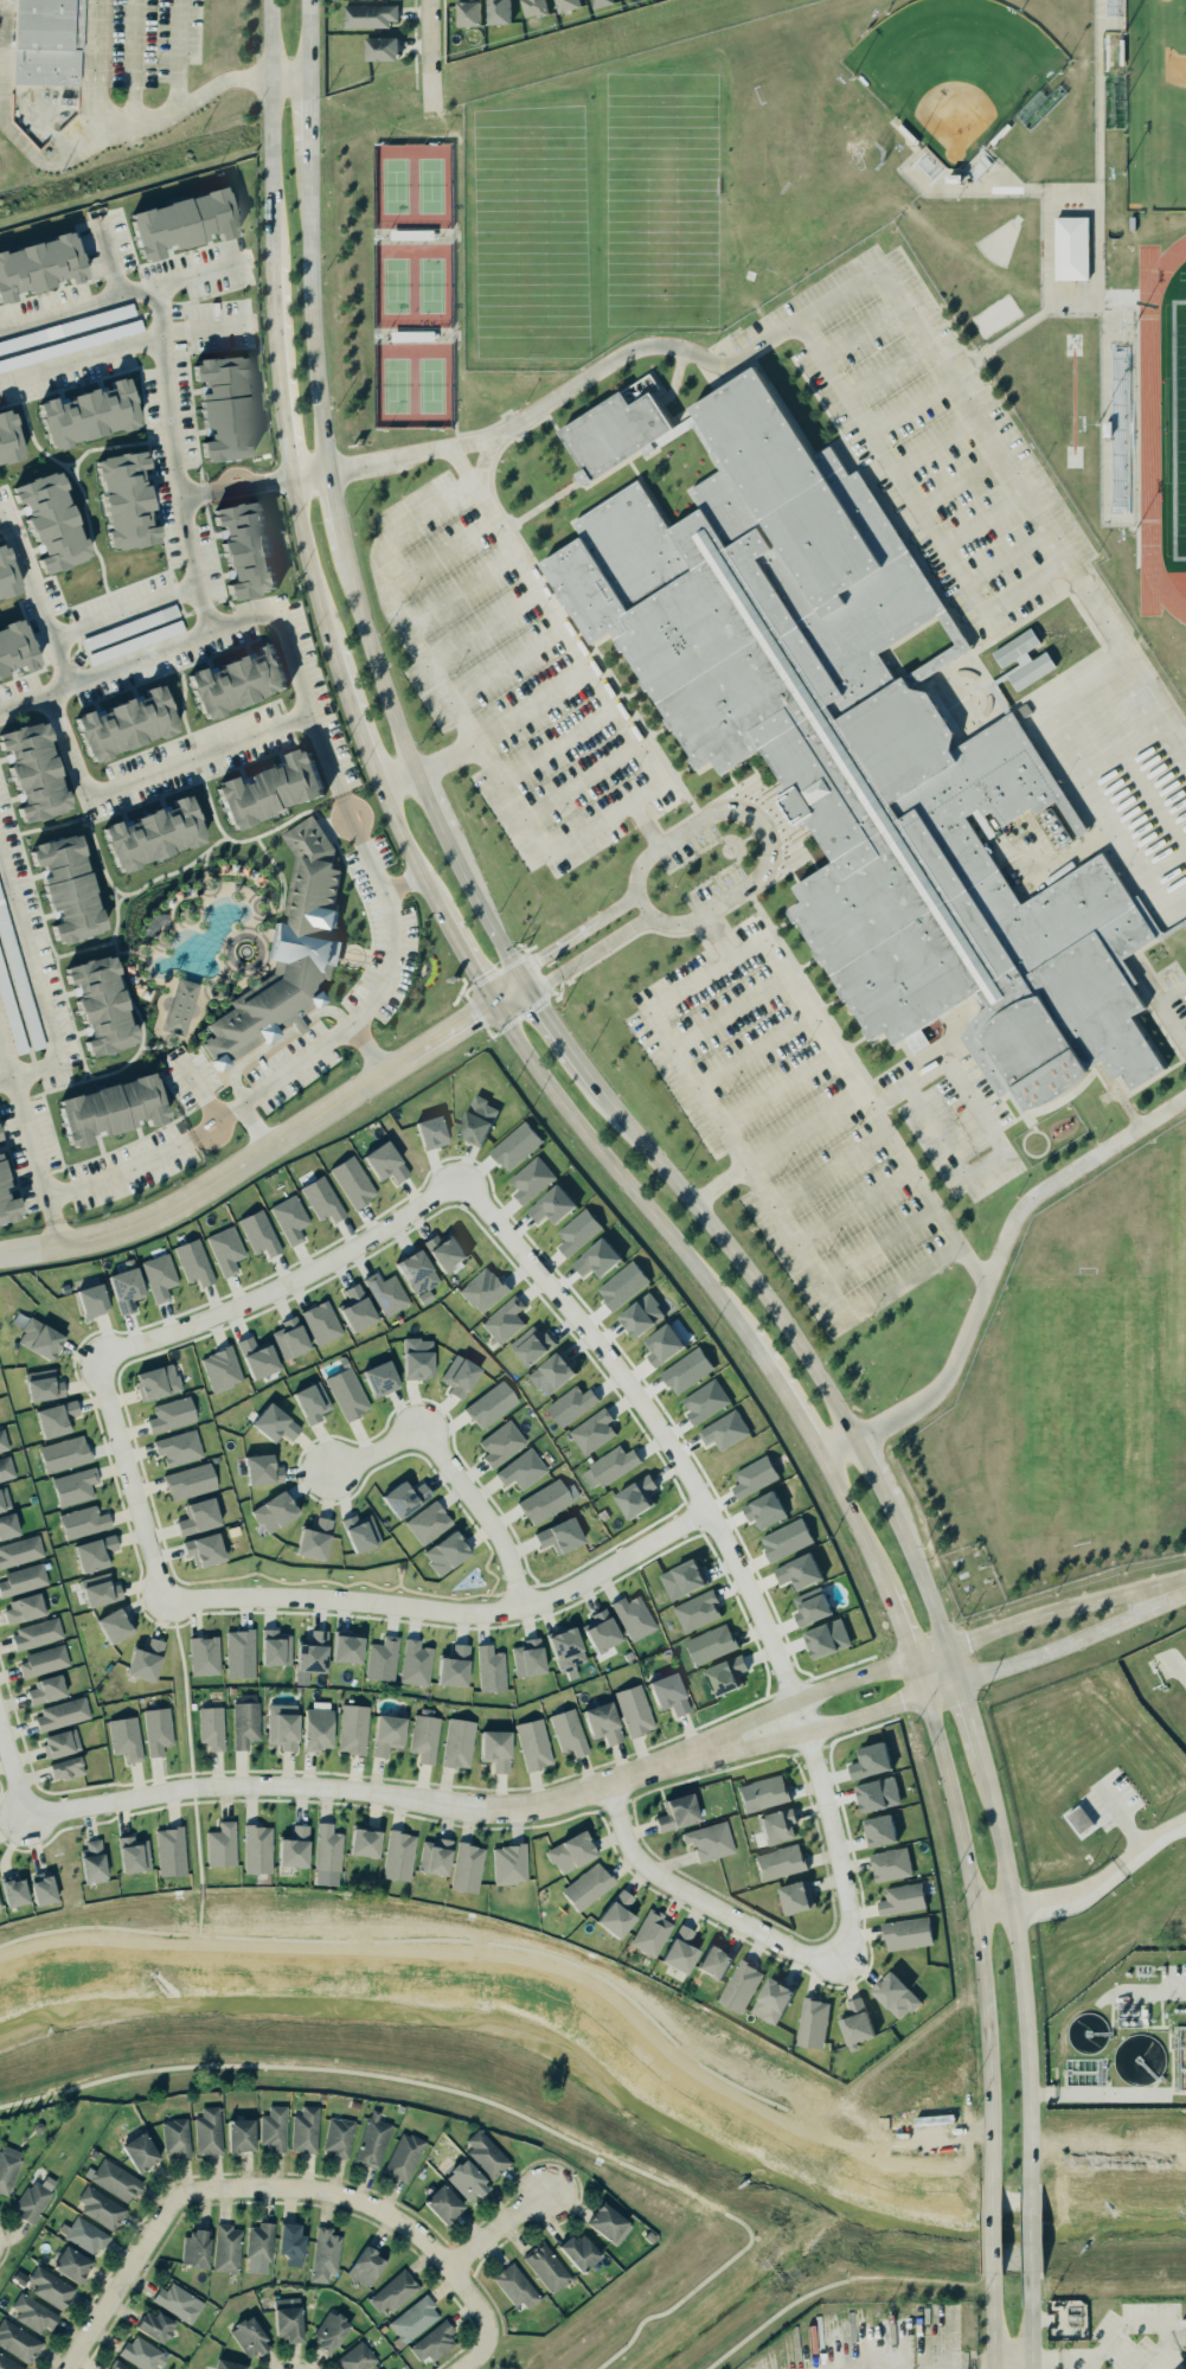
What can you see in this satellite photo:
building: (601, 4)
building: (566, 5)
building: (534, 8)
building: (499, 12)
building: (468, 13)
building: (367, 15)
road: (308, 39)
building: (44, 40)
building: (382, 50)
road: (432, 53)
road: (175, 55)
road: (130, 69)
park: (953, 72)
road: (288, 79)
road: (222, 81)
park: (1155, 104)
road: (94, 105)
road: (307, 119)
road: (269, 134)
road: (52, 164)
park: (641, 203)
building: (181, 218)
road: (310, 224)
building: (1071, 248)
building: (39, 260)
road: (859, 280)
park: (410, 287)
road: (115, 296)
road: (453, 297)
road: (159, 305)
road: (861, 329)
road: (885, 369)
road: (167, 371)
road: (277, 371)
road: (320, 380)
building: (223, 403)
road: (909, 406)
building: (85, 409)
building: (8, 435)
road: (934, 444)
road: (461, 467)
road: (309, 473)
road: (250, 481)
road: (957, 484)
road: (195, 491)
building: (123, 497)
road: (915, 508)
road: (334, 510)
building: (49, 518)
road: (980, 519)
building: (244, 545)
road: (438, 556)
road: (1005, 557)
road: (308, 563)
building: (6, 572)
road: (459, 591)
road: (384, 598)
road: (205, 608)
building: (129, 627)
road: (282, 627)
road: (483, 629)
road: (65, 634)
building: (135, 642)
building: (14, 644)
road: (137, 654)
road: (579, 655)
building: (1021, 659)
road: (373, 660)
road: (506, 665)
building: (237, 678)
road: (56, 689)
road: (531, 706)
road: (353, 717)
building: (124, 721)
building: (851, 742)
road: (556, 744)
road: (323, 749)
road: (445, 758)
building: (31, 769)
road: (150, 773)
road: (396, 777)
road: (579, 782)
building: (268, 787)
road: (425, 801)
road: (749, 818)
building: (150, 832)
road: (536, 841)
road: (404, 846)
building: (66, 885)
road: (477, 908)
road: (616, 909)
road: (383, 910)
road: (552, 948)
building: (287, 952)
road: (461, 955)
road: (586, 956)
road: (36, 979)
building: (18, 981)
building: (100, 1003)
building: (180, 1006)
road: (1162, 1012)
road: (726, 1014)
building: (9, 1016)
road: (544, 1017)
road: (751, 1052)
road: (295, 1064)
road: (846, 1074)
road: (949, 1076)
road: (775, 1091)
building: (110, 1105)
building: (475, 1114)
building: (430, 1132)
road: (270, 1144)
building: (515, 1146)
road: (775, 1147)
road: (947, 1152)
building: (385, 1163)
building: (1, 1171)
road: (615, 1171)
road: (827, 1171)
building: (531, 1179)
building: (352, 1182)
road: (751, 1185)
road: (51, 1191)
building: (6, 1198)
building: (322, 1199)
road: (49, 1205)
building: (552, 1205)
road: (852, 1210)
building: (289, 1218)
road: (53, 1232)
building: (258, 1232)
building: (577, 1232)
road: (720, 1240)
road: (877, 1247)
building: (225, 1249)
building: (445, 1253)
building: (190, 1259)
building: (597, 1259)
park: (1173, 1264)
road: (991, 1269)
building: (417, 1273)
building: (159, 1276)
road: (284, 1283)
building: (622, 1286)
building: (126, 1289)
building: (483, 1291)
building: (386, 1293)
building: (90, 1295)
building: (357, 1308)
building: (639, 1312)
building: (505, 1320)
building: (321, 1323)
building: (289, 1338)
building: (40, 1339)
building: (532, 1345)
building: (662, 1345)
building: (257, 1357)
building: (417, 1358)
building: (549, 1368)
building: (684, 1368)
building: (220, 1369)
building: (378, 1375)
building: (459, 1376)
building: (158, 1382)
building: (43, 1385)
building: (347, 1394)
building: (309, 1397)
road: (784, 1397)
building: (705, 1402)
building: (491, 1404)
building: (572, 1406)
park: (1079, 1409)
building: (168, 1411)
building: (56, 1419)
building: (274, 1423)
building: (722, 1427)
building: (591, 1428)
building: (1, 1440)
building: (501, 1443)
building: (178, 1447)
building: (64, 1453)
building: (258, 1464)
building: (519, 1466)
building: (5, 1467)
building: (609, 1467)
road: (872, 1468)
road: (451, 1470)
building: (754, 1477)
road: (130, 1478)
building: (190, 1481)
building: (73, 1486)
building: (2, 1497)
building: (636, 1497)
building: (404, 1498)
building: (544, 1502)
building: (764, 1510)
building: (275, 1511)
building: (198, 1516)
building: (81, 1518)
building: (428, 1522)
road: (854, 1522)
building: (6, 1524)
building: (309, 1532)
building: (360, 1532)
building: (559, 1536)
building: (784, 1536)
road: (720, 1537)
building: (201, 1543)
building: (19, 1550)
building: (95, 1552)
building: (447, 1552)
road: (485, 1568)
building: (400, 1569)
road: (917, 1570)
building: (800, 1571)
building: (21, 1577)
park: (359, 1579)
road: (399, 1579)
building: (684, 1580)
road: (277, 1581)
building: (100, 1589)
road: (515, 1589)
road: (496, 1594)
road: (443, 1596)
building: (23, 1607)
road: (1064, 1607)
building: (812, 1609)
road: (448, 1611)
building: (698, 1612)
building: (633, 1616)
road: (900, 1619)
building: (115, 1625)
building: (601, 1631)
building: (34, 1632)
building: (827, 1639)
building: (710, 1645)
building: (275, 1647)
building: (346, 1648)
building: (565, 1648)
building: (239, 1653)
building: (312, 1653)
building: (204, 1656)
building: (527, 1658)
building: (382, 1659)
building: (41, 1660)
building: (145, 1660)
building: (450, 1661)
building: (416, 1663)
road: (953, 1664)
building: (491, 1669)
building: (722, 1671)
building: (46, 1689)
building: (666, 1692)
road: (800, 1697)
road: (930, 1697)
road: (186, 1699)
building: (630, 1707)
building: (60, 1712)
building: (242, 1720)
road: (969, 1721)
building: (601, 1722)
building: (280, 1724)
building: (155, 1727)
building: (351, 1727)
building: (211, 1728)
building: (315, 1728)
building: (384, 1730)
building: (566, 1730)
building: (122, 1735)
building: (422, 1735)
building: (455, 1742)
building: (58, 1743)
building: (533, 1743)
building: (495, 1749)
building: (866, 1755)
building: (64, 1767)
road: (13, 1771)
road: (193, 1788)
road: (346, 1791)
building: (761, 1793)
building: (878, 1794)
building: (674, 1812)
road: (13, 1819)
building: (1078, 1820)
building: (775, 1825)
building: (879, 1831)
building: (709, 1840)
building: (363, 1842)
road: (198, 1843)
building: (219, 1845)
building: (568, 1845)
building: (168, 1846)
building: (293, 1848)
building: (257, 1849)
building: (133, 1855)
building: (327, 1855)
building: (398, 1856)
building: (435, 1857)
building: (91, 1861)
building: (780, 1862)
building: (509, 1864)
building: (891, 1864)
building: (467, 1868)
road: (1090, 1883)
building: (585, 1884)
building: (40, 1889)
building: (12, 1891)
road: (201, 1896)
building: (795, 1896)
road: (699, 1900)
building: (902, 1900)
building: (617, 1914)
road: (977, 1916)
road: (200, 1921)
building: (650, 1933)
building: (905, 1933)
road: (417, 1940)
building: (678, 1949)
building: (714, 1960)
road: (1020, 1971)
building: (738, 1986)
road: (1115, 1991)
building: (896, 1996)
building: (770, 1999)
building: (810, 2022)
building: (854, 2023)
wastewater plant: (1120, 2038)
building: (1182, 2064)
road: (1108, 2095)
road: (492, 2102)
building: (274, 2128)
building: (303, 2128)
building: (207, 2131)
building: (241, 2136)
building: (175, 2137)
building: (339, 2137)
building: (372, 2140)
building: (139, 2151)
building: (483, 2153)
building: (404, 2156)
building: (7, 2165)
building: (114, 2179)
building: (467, 2181)
building: (30, 2201)
road: (364, 2202)
building: (441, 2203)
building: (98, 2207)
building: (604, 2222)
road: (500, 2230)
road: (991, 2232)
road: (1032, 2233)
building: (86, 2236)
building: (257, 2242)
building: (290, 2245)
building: (193, 2248)
building: (226, 2248)
building: (579, 2252)
building: (325, 2254)
building: (68, 2259)
building: (366, 2265)
building: (545, 2266)
road: (121, 2284)
building: (49, 2286)
building: (514, 2286)
building: (392, 2292)
building: (178, 2301)
building: (31, 2312)
road: (1032, 2313)
road: (772, 2317)
building: (286, 2318)
building: (414, 2320)
road: (992, 2322)
road: (1140, 2322)
building: (154, 2325)
building: (328, 2330)
building: (249, 2337)
building: (17, 2341)
building: (432, 2343)
road: (1013, 2351)
building: (141, 2352)
building: (355, 2357)
road: (476, 2357)
road: (1033, 2360)
road: (1058, 2360)
building: (9, 2363)
building: (116, 2364)
building: (225, 2364)
road: (966, 2364)

